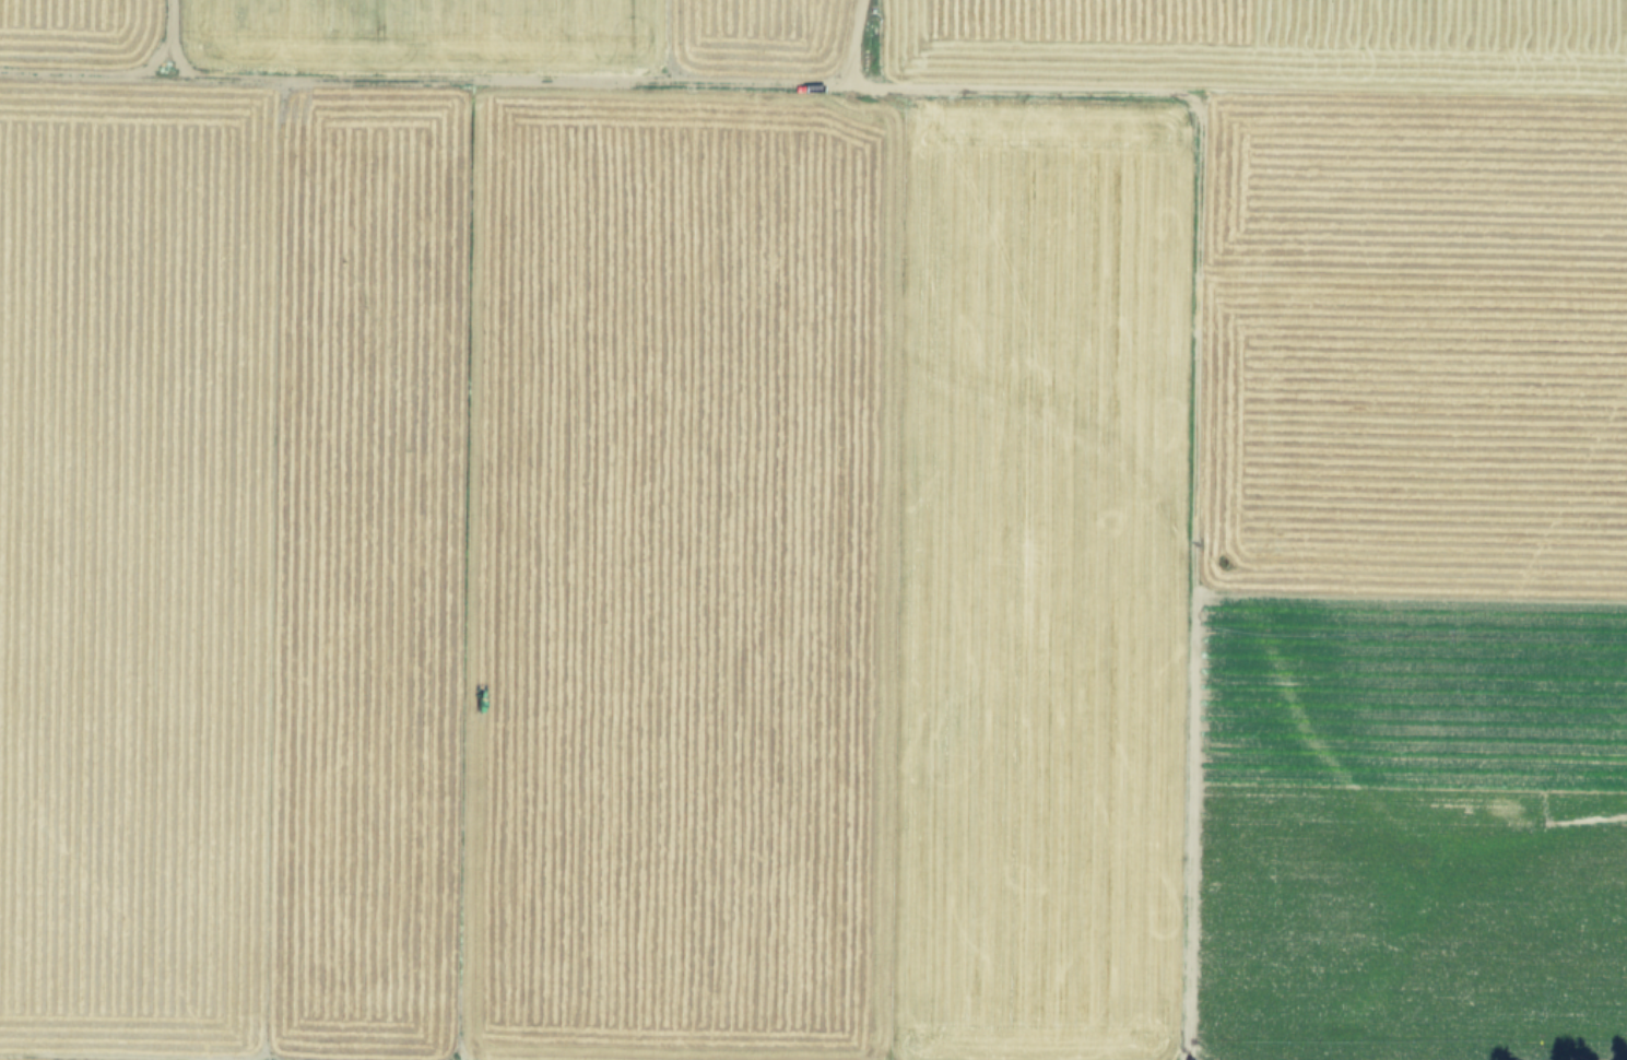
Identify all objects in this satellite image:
crop: (813, 530)

